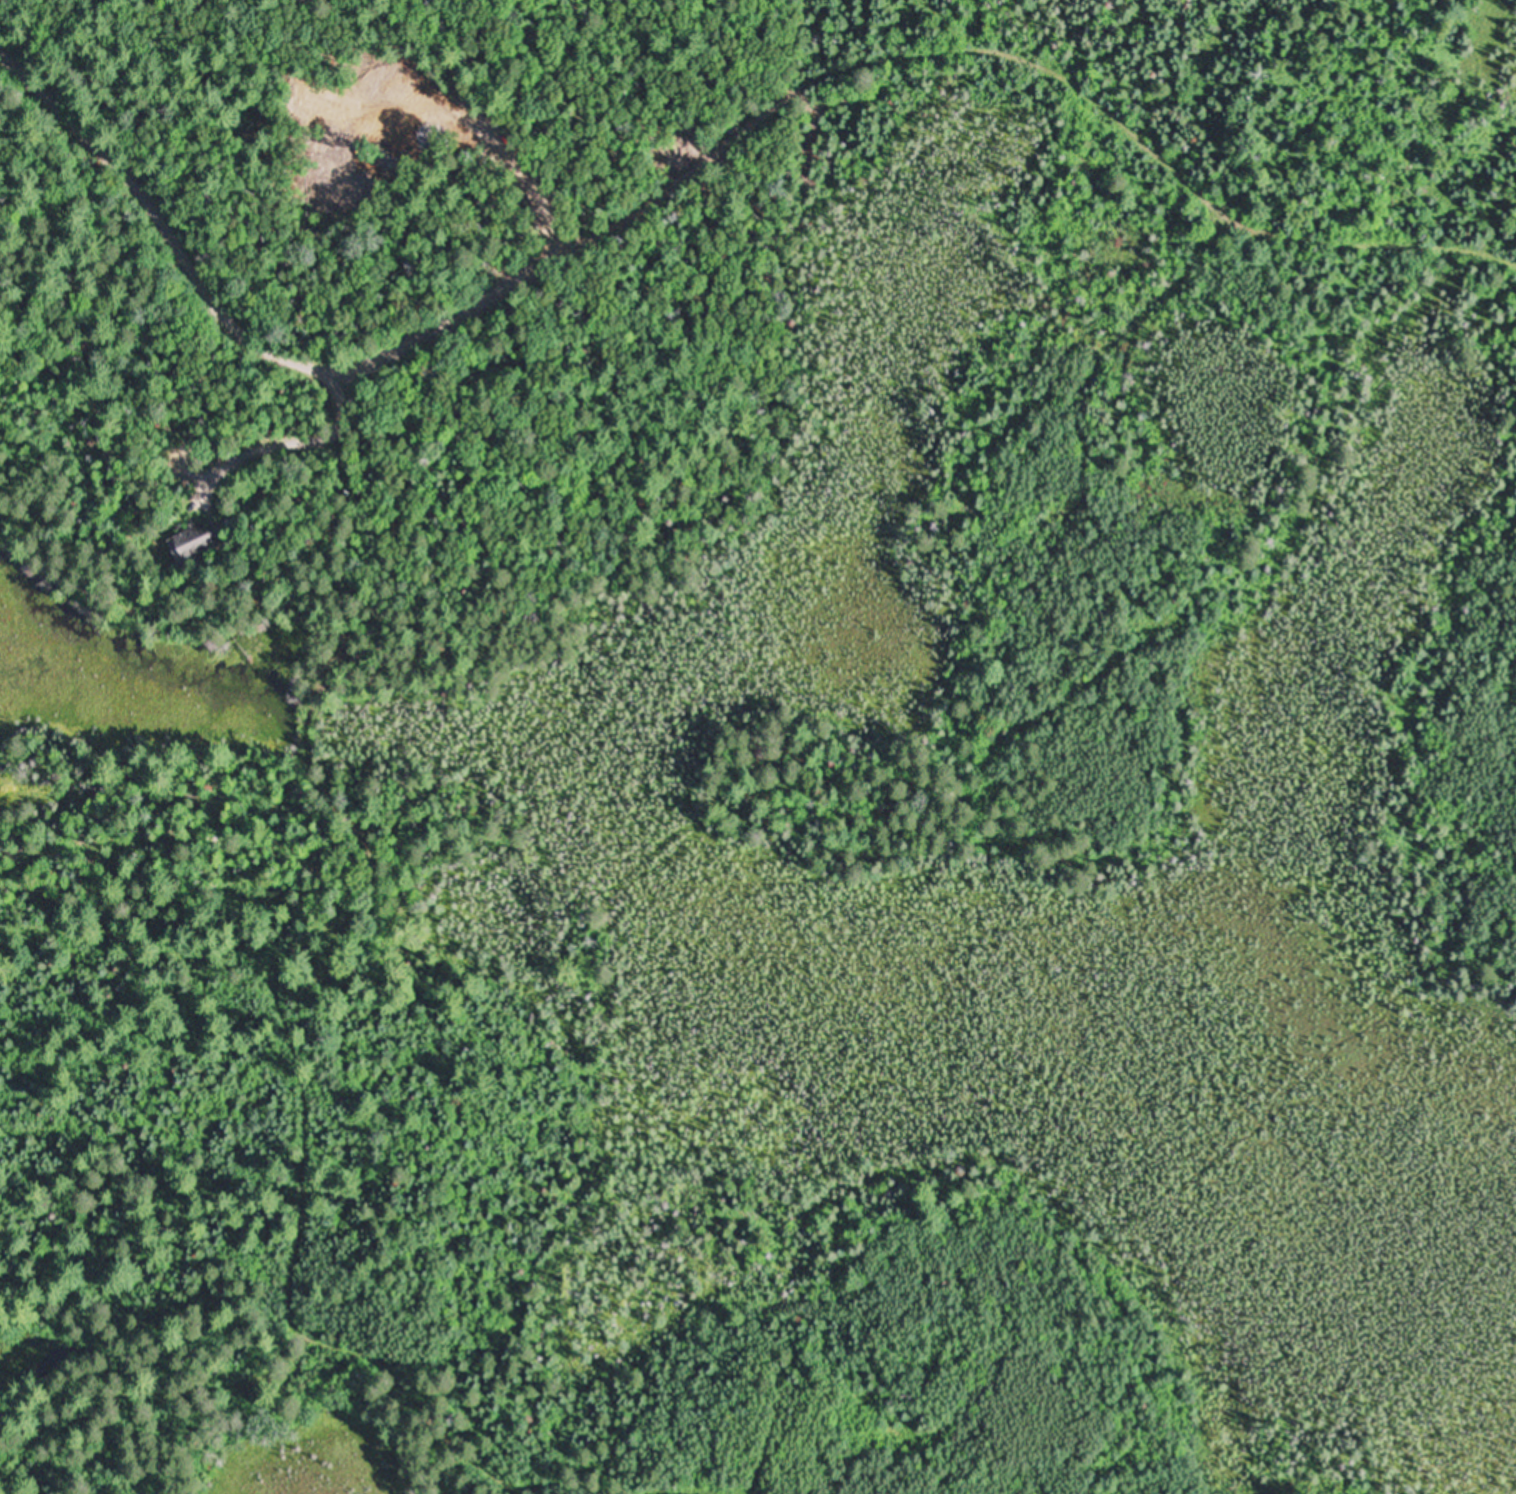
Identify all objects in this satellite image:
road: (167, 234)
building: (187, 542)

